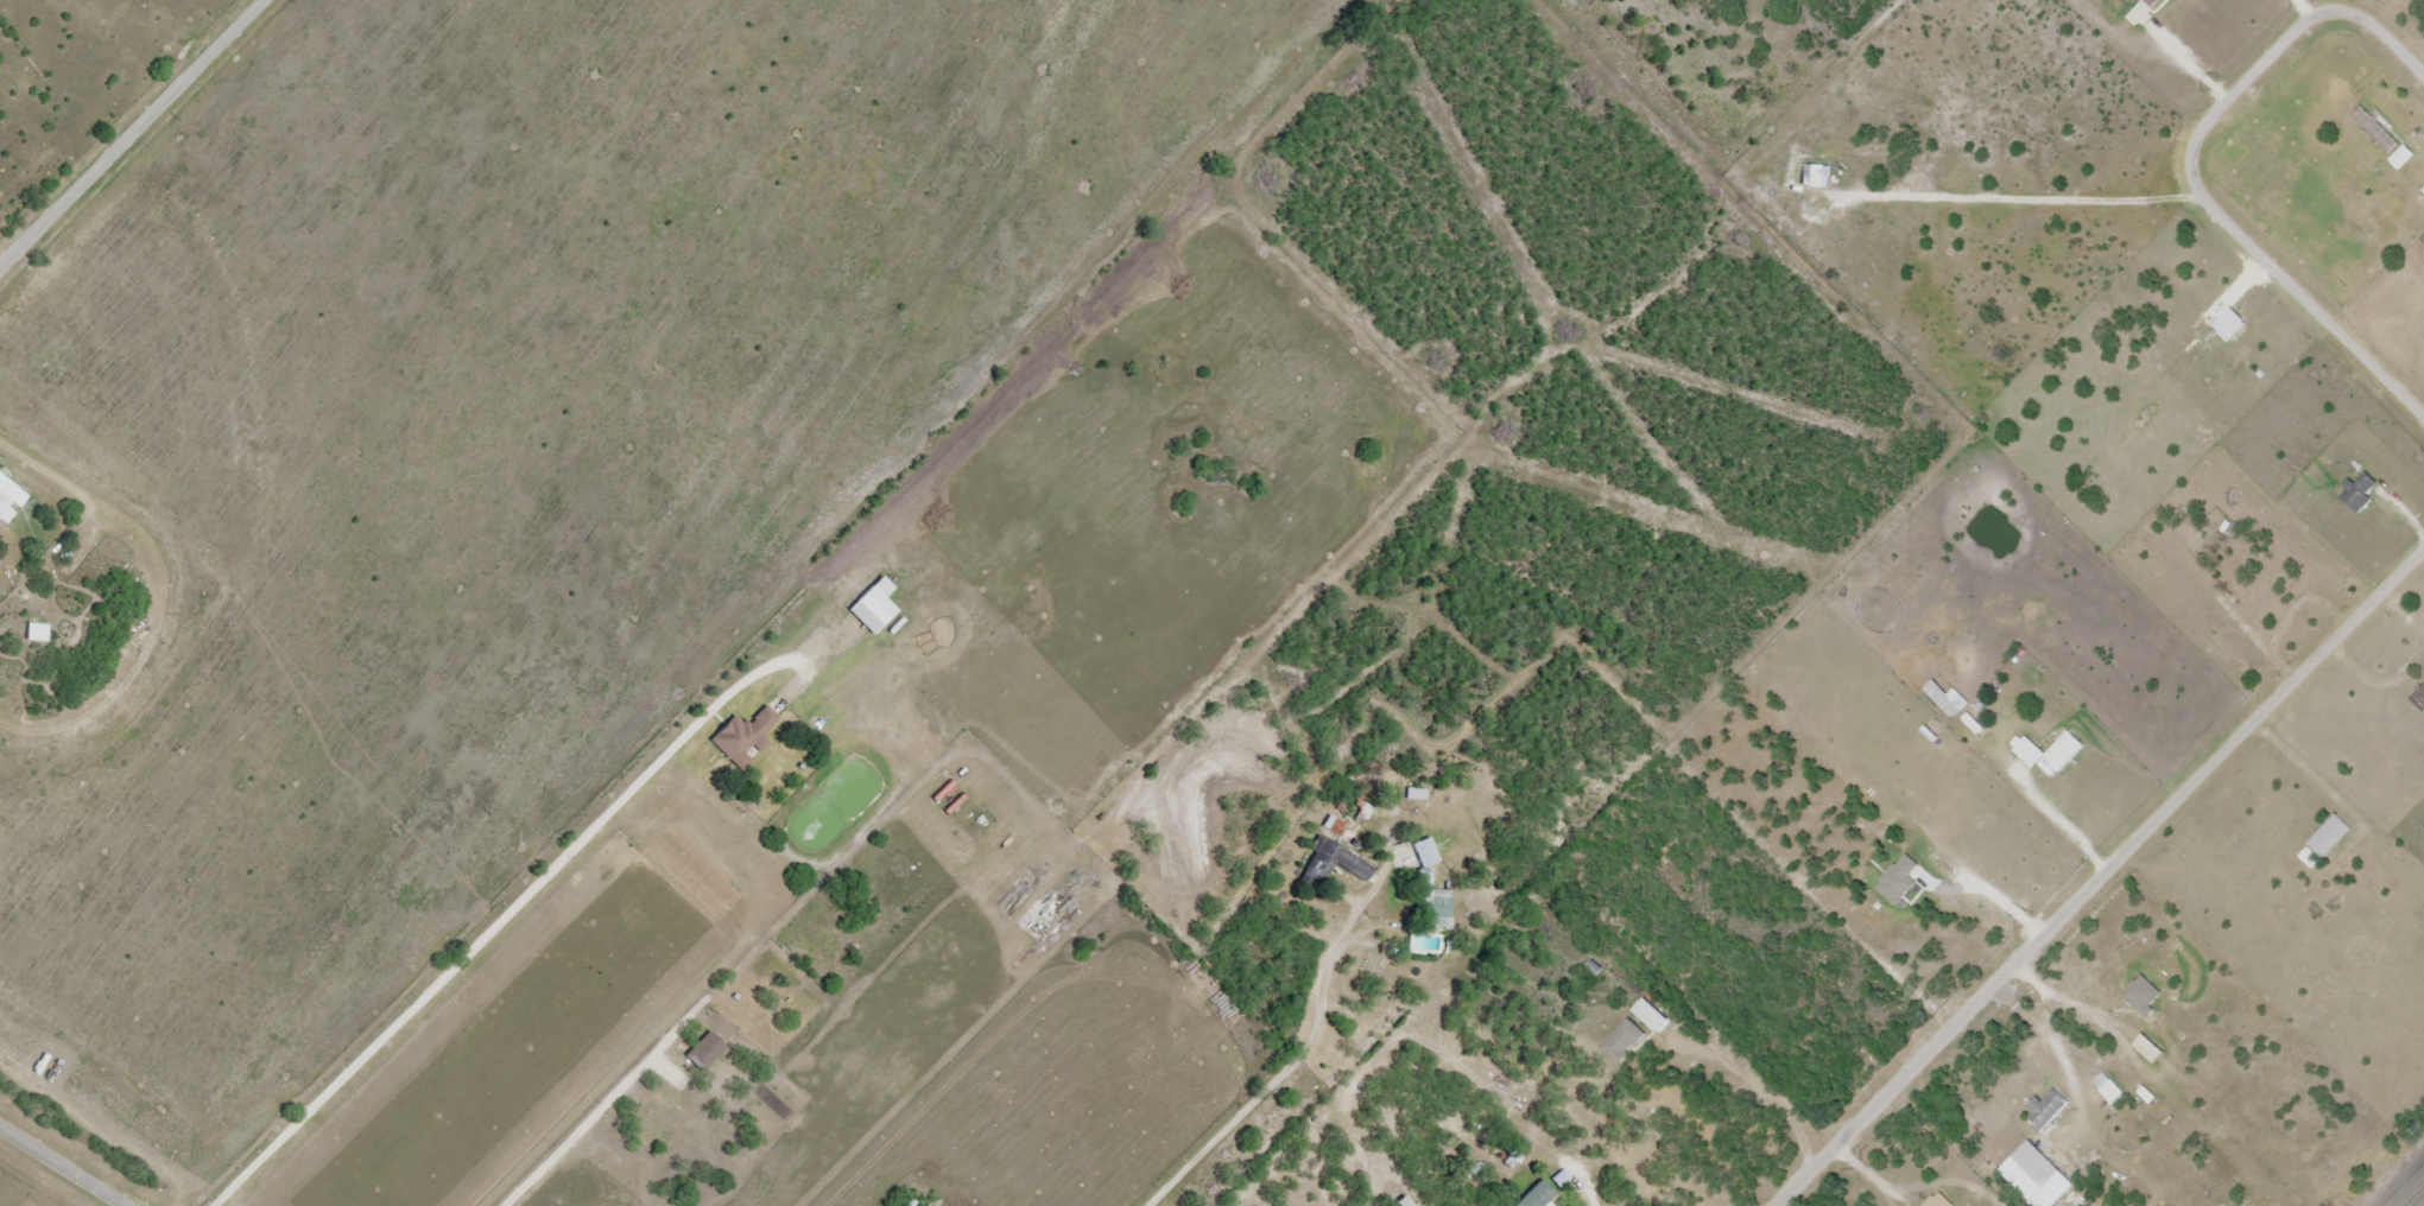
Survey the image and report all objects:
road: (127, 127)
building: (2378, 129)
building: (2404, 158)
road: (2189, 171)
building: (2361, 493)
building: (7, 497)
building: (874, 605)
building: (1947, 698)
building: (745, 737)
building: (2065, 751)
building: (2331, 837)
building: (1426, 852)
road: (2097, 877)
building: (1431, 903)
road: (1344, 1059)
building: (1616, 1059)
building: (2112, 1090)
building: (2048, 1110)
building: (2227, 1135)
road: (1372, 1136)
road: (68, 1162)
building: (2043, 1180)
building: (1537, 1197)

